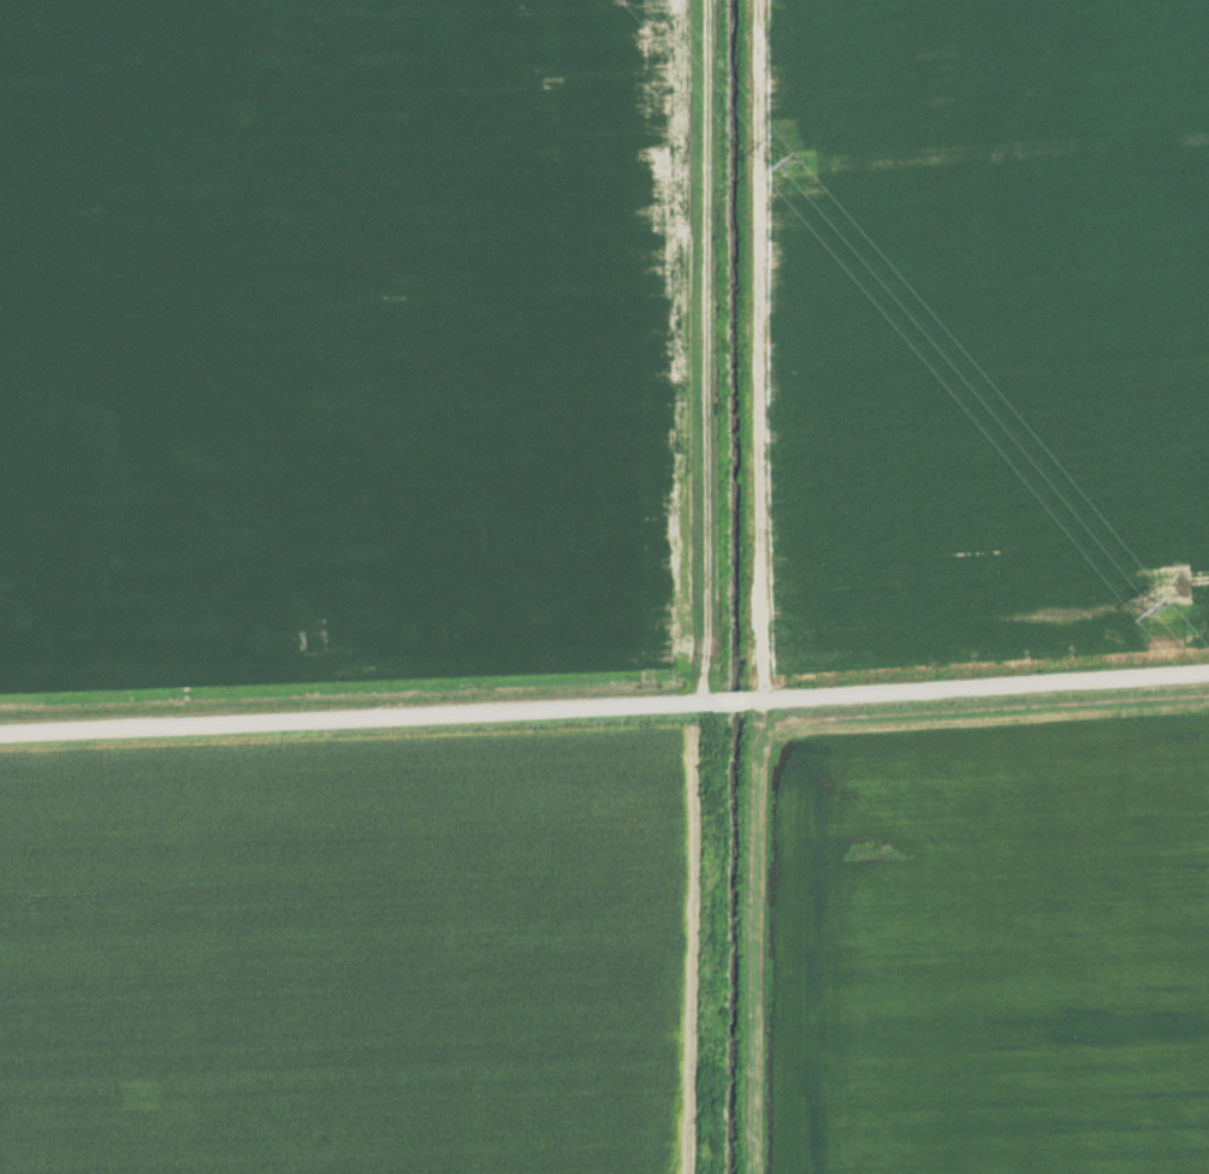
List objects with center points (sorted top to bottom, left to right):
power tower: (793, 164)
power tower: (1162, 607)
road: (604, 706)

